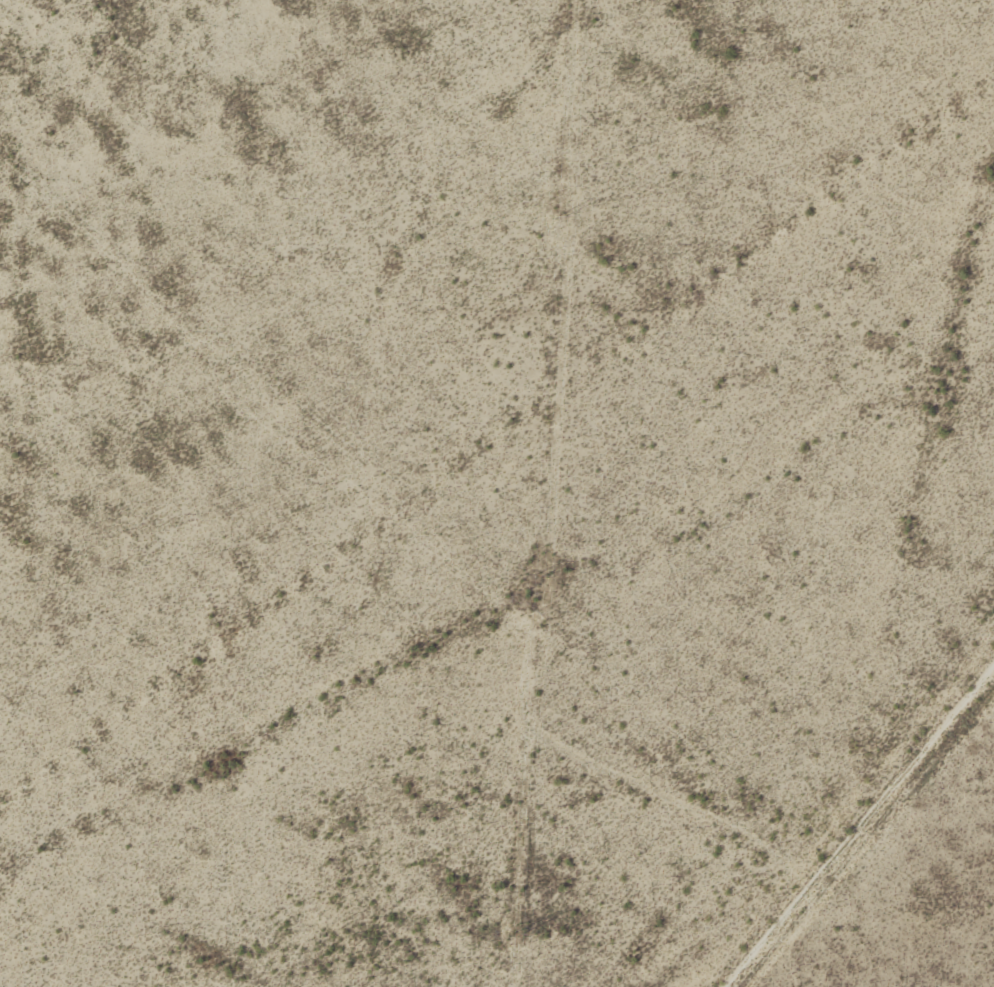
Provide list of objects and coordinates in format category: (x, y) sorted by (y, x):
power tower: (560, 217)
power tower: (538, 577)
road: (861, 831)
power tower: (517, 936)

